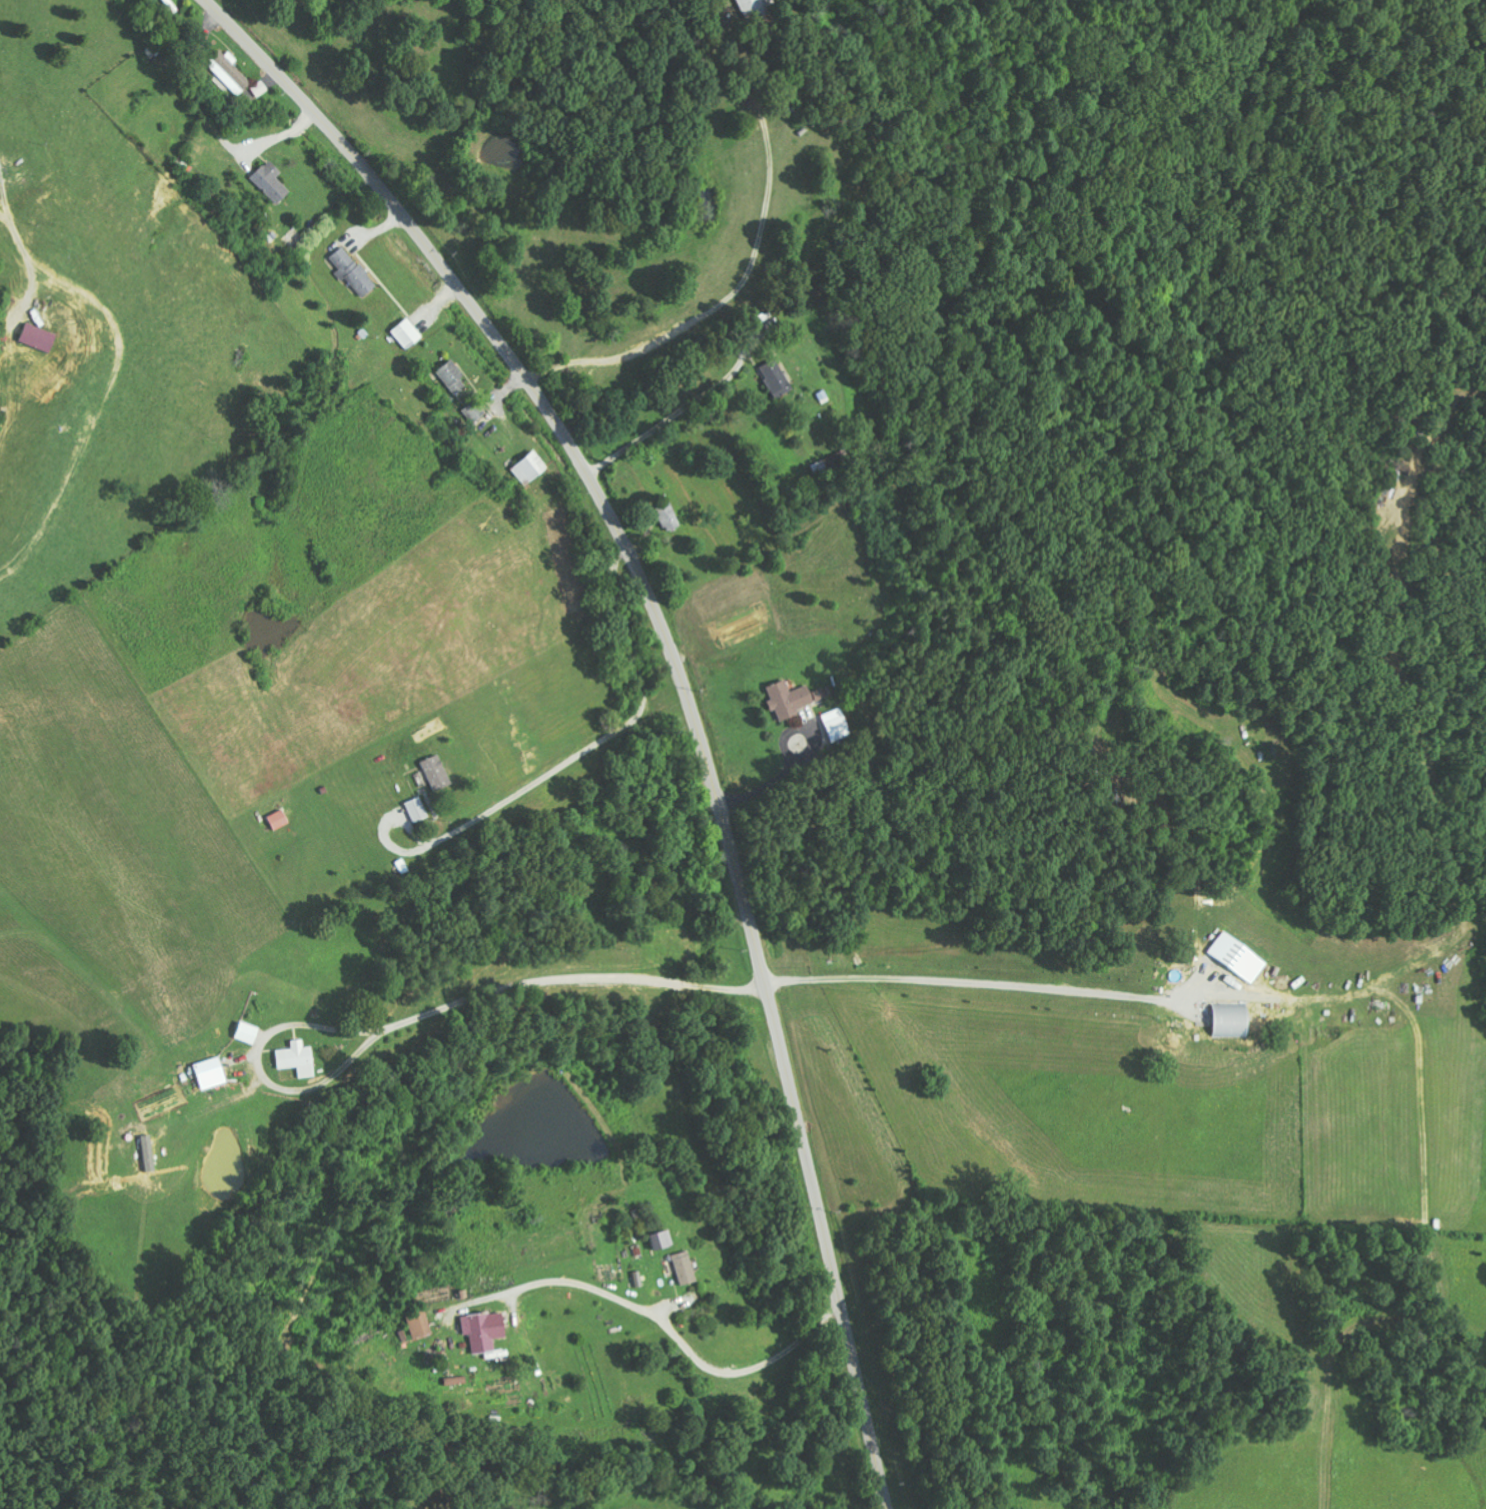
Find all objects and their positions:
building: (753, 7)
building: (229, 72)
building: (260, 89)
building: (271, 182)
road: (696, 231)
building: (354, 271)
building: (408, 334)
building: (42, 337)
building: (454, 376)
building: (775, 377)
building: (475, 412)
road: (750, 461)
building: (530, 468)
building: (670, 517)
road: (687, 688)
building: (795, 699)
building: (836, 725)
building: (436, 773)
building: (417, 810)
building: (279, 820)
building: (1239, 957)
building: (1232, 1021)
building: (298, 1060)
building: (213, 1074)
building: (663, 1241)
building: (683, 1268)
building: (637, 1280)
building: (421, 1325)
road: (677, 1328)
building: (486, 1331)

